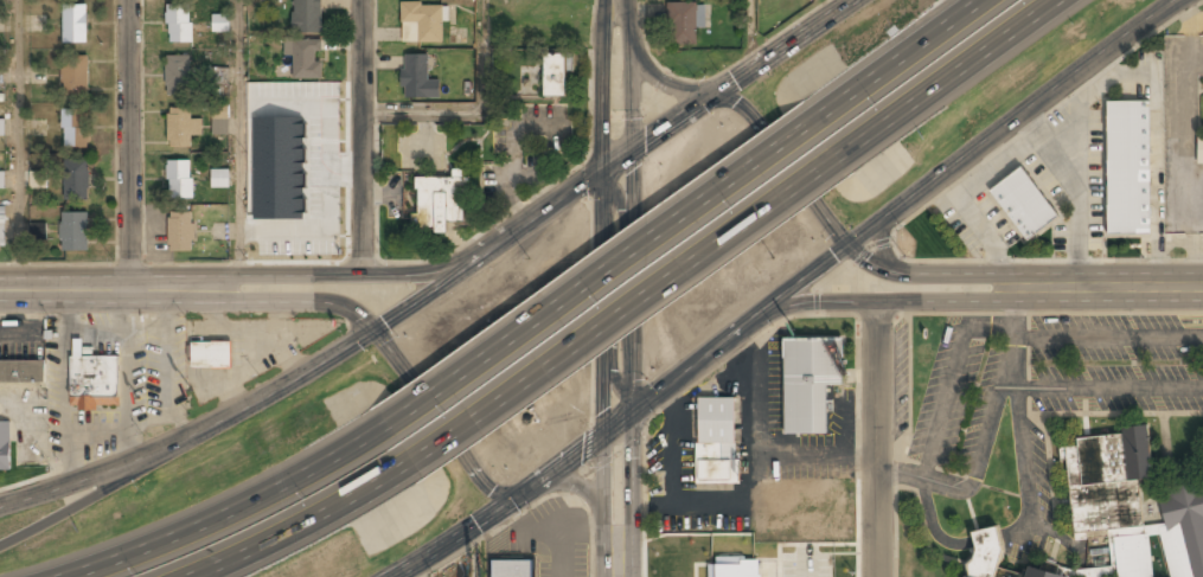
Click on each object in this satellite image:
building: (307, 17)
building: (220, 23)
building: (422, 23)
building: (75, 24)
building: (179, 24)
building: (682, 24)
road: (749, 34)
building: (305, 57)
road: (480, 58)
road: (907, 58)
building: (1, 75)
building: (178, 75)
building: (555, 76)
road: (615, 76)
building: (417, 77)
road: (651, 78)
building: (75, 79)
road: (948, 83)
traffic signals: (702, 98)
road: (422, 116)
building: (219, 118)
building: (181, 127)
building: (0, 128)
building: (73, 128)
road: (364, 137)
road: (237, 140)
road: (18, 146)
road: (129, 146)
building: (1199, 150)
traffic signals: (616, 153)
road: (786, 160)
building: (1126, 168)
building: (219, 178)
building: (1, 179)
building: (38, 179)
building: (77, 179)
building: (179, 179)
building: (440, 204)
building: (1022, 204)
building: (2, 229)
building: (37, 231)
building: (75, 231)
building: (180, 231)
traffic signals: (853, 250)
road: (996, 275)
road: (326, 276)
road: (444, 283)
road: (589, 287)
road: (616, 288)
road: (1173, 288)
road: (91, 293)
road: (796, 294)
road: (962, 300)
road: (282, 301)
traffic signals: (375, 332)
road: (606, 333)
building: (211, 355)
building: (23, 372)
building: (94, 380)
building: (811, 380)
traffic signals: (618, 424)
road: (441, 425)
building: (716, 440)
road: (877, 440)
building: (5, 445)
road: (574, 489)
traffic signals: (527, 493)
road: (616, 500)
road: (97, 502)
building: (1132, 507)
road: (224, 521)
road: (295, 541)
building: (984, 553)
building: (512, 569)
building: (1041, 573)

